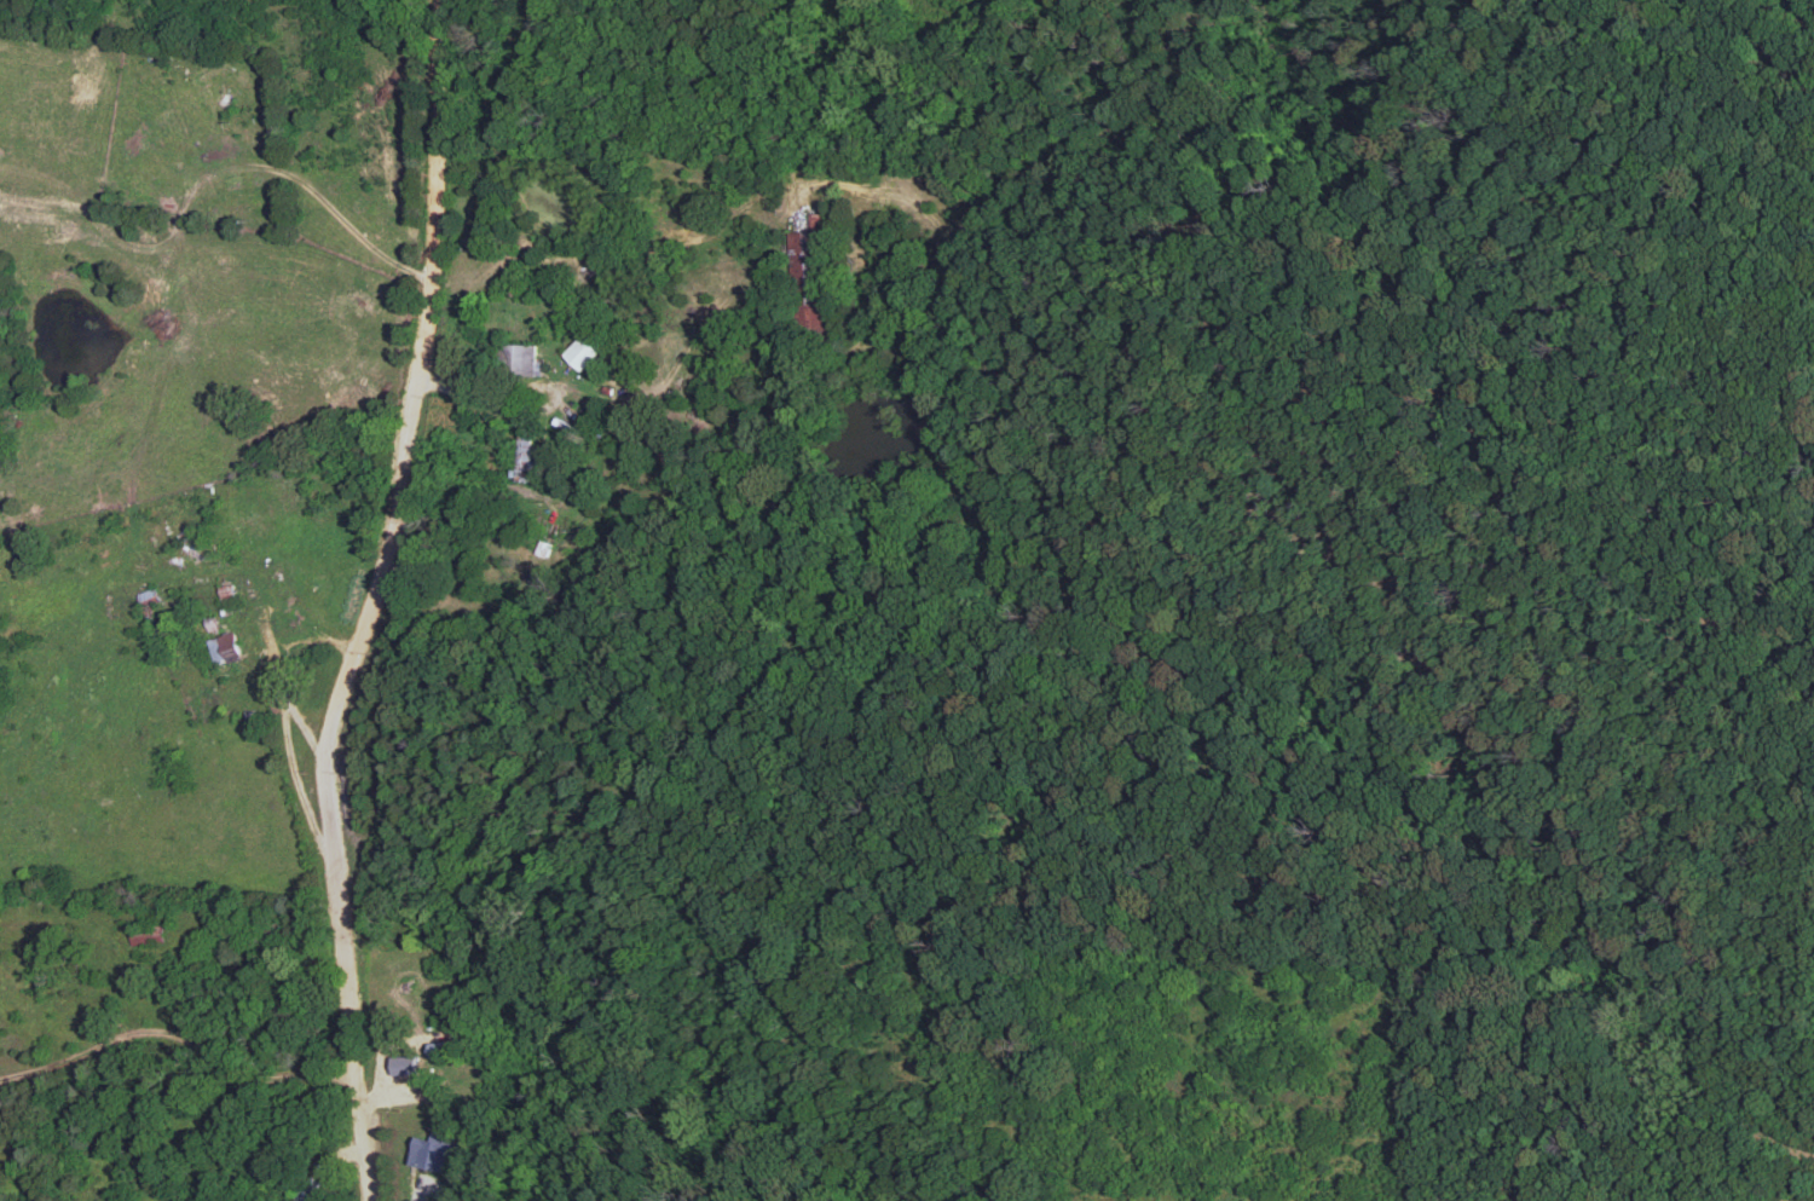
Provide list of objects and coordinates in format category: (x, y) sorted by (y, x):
building: (579, 352)
building: (519, 358)
road: (496, 403)
road: (371, 605)
building: (221, 648)
road: (174, 1004)

